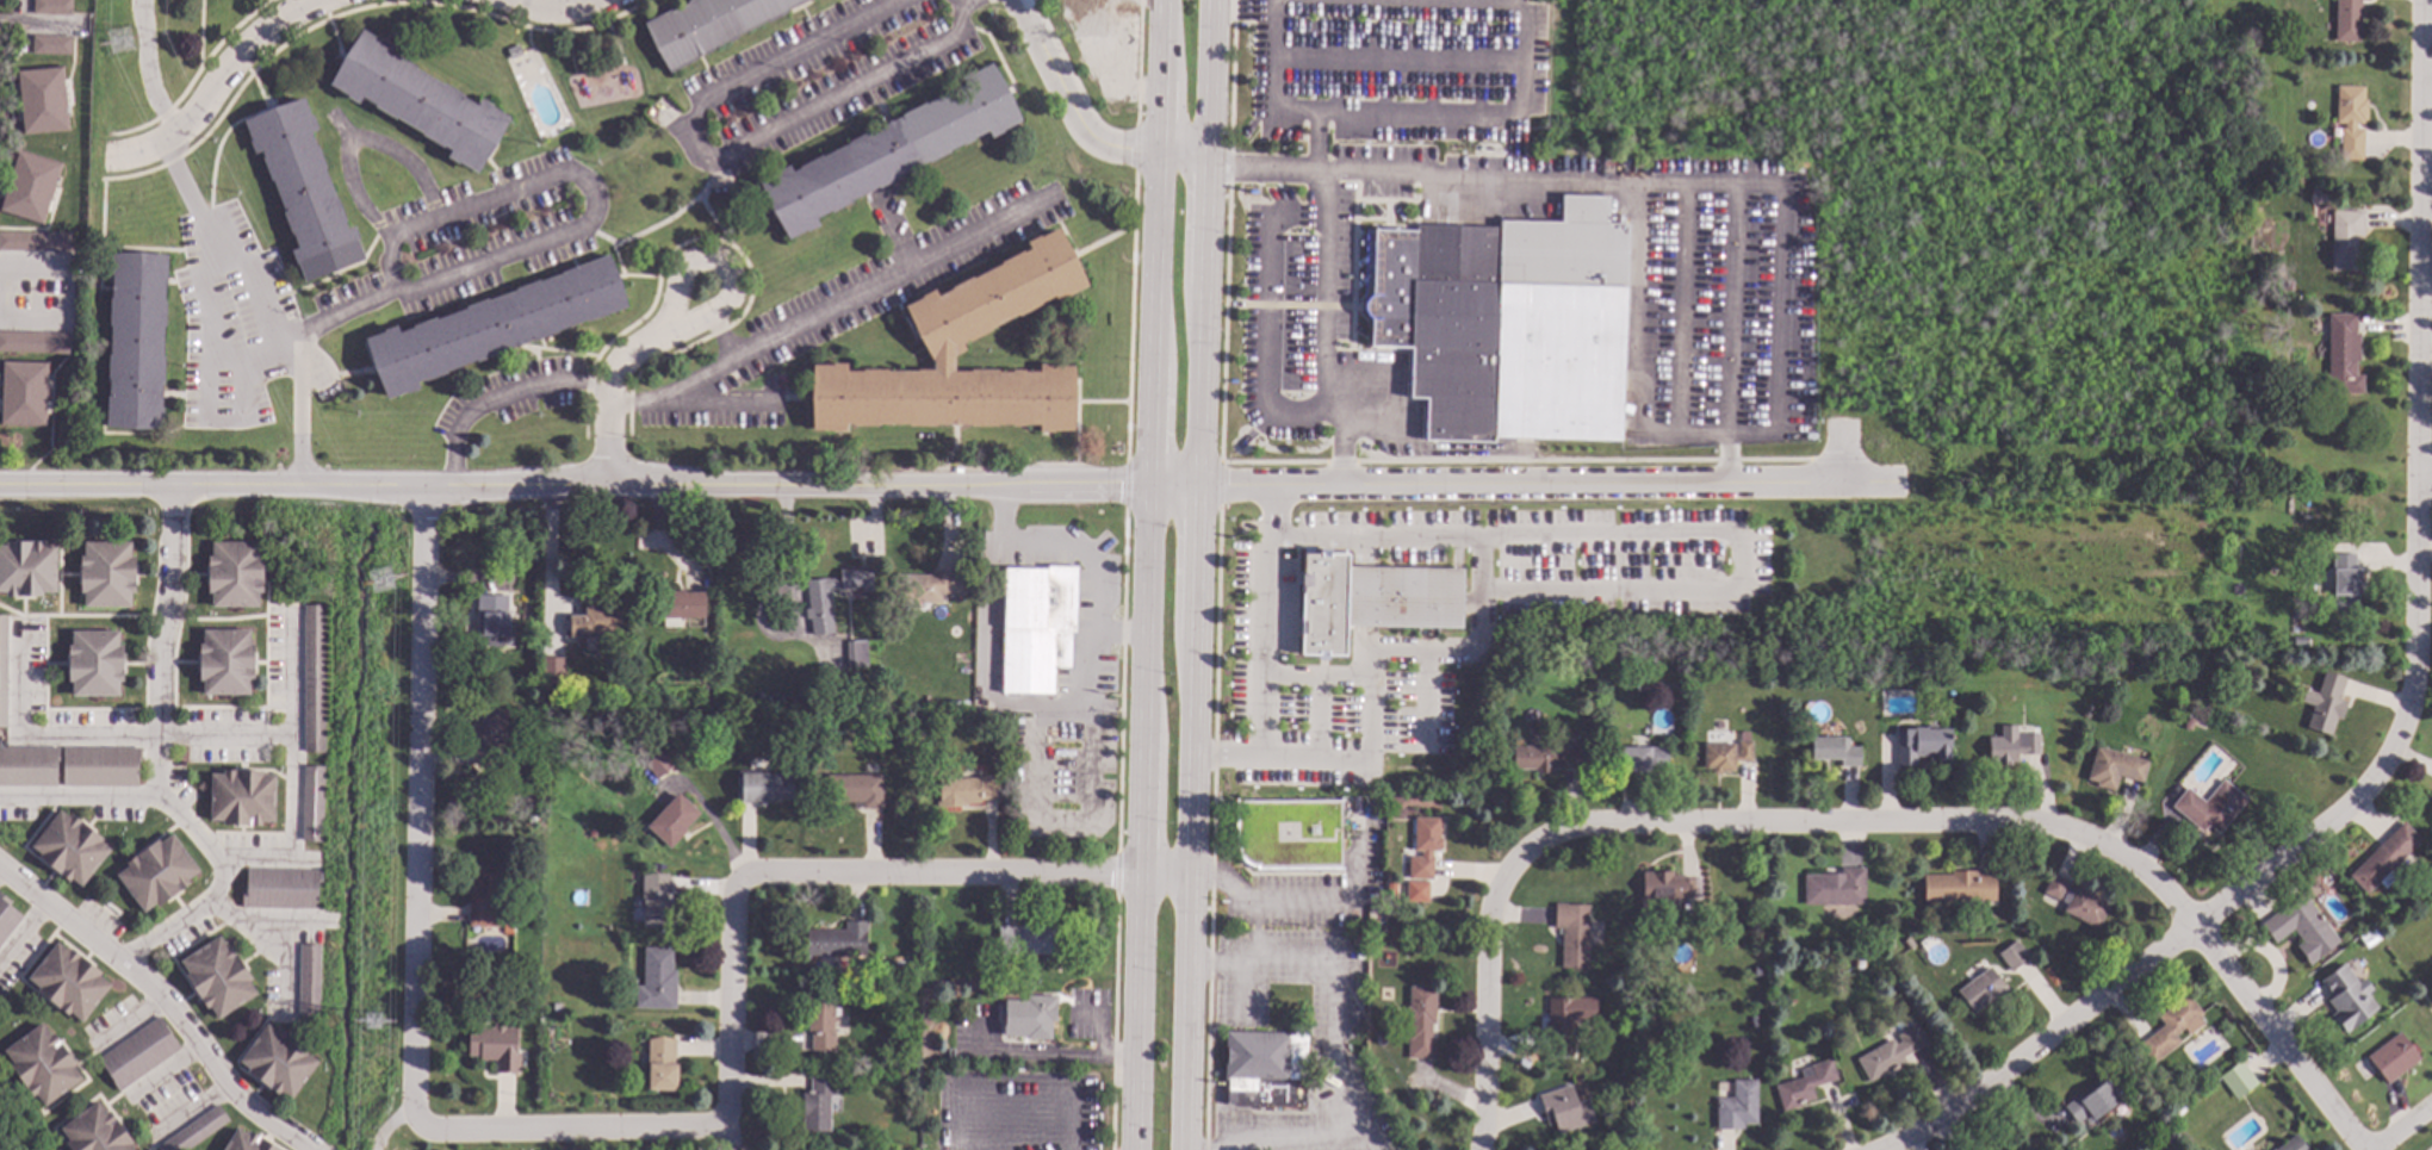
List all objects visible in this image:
road: (1563, 6)
building: (52, 7)
road: (558, 12)
building: (1086, 17)
building: (2346, 20)
building: (708, 26)
road: (39, 27)
road: (1831, 32)
power tower: (122, 41)
building: (51, 45)
building: (513, 52)
road: (2208, 52)
road: (147, 69)
road: (1816, 72)
road: (222, 79)
road: (1274, 79)
building: (42, 101)
building: (418, 101)
road: (1080, 120)
road: (2138, 120)
building: (2350, 120)
road: (1932, 130)
building: (1507, 135)
road: (2003, 141)
building: (888, 153)
road: (719, 161)
road: (2010, 167)
road: (2166, 181)
road: (1525, 182)
building: (29, 187)
building: (303, 189)
park: (1992, 195)
road: (484, 203)
road: (660, 220)
road: (713, 220)
road: (718, 240)
building: (2345, 241)
building: (35, 242)
road: (1204, 243)
road: (213, 253)
road: (30, 266)
road: (1987, 267)
road: (1327, 273)
road: (732, 276)
building: (2288, 286)
building: (1479, 293)
road: (372, 303)
road: (833, 316)
road: (32, 319)
building: (492, 327)
building: (950, 334)
road: (1729, 335)
building: (136, 342)
building: (33, 343)
road: (210, 348)
road: (1991, 354)
building: (2341, 358)
road: (2191, 362)
road: (2417, 365)
road: (612, 391)
road: (501, 392)
building: (24, 394)
road: (1150, 437)
road: (1837, 454)
road: (2424, 473)
road: (939, 486)
building: (2303, 514)
building: (484, 555)
road: (548, 564)
building: (26, 568)
building: (106, 574)
building: (234, 574)
power tower: (381, 582)
building: (2344, 583)
building: (927, 588)
building: (1371, 601)
building: (818, 602)
building: (682, 605)
road: (1092, 618)
building: (492, 620)
building: (596, 624)
building: (695, 624)
building: (1037, 628)
building: (2298, 645)
road: (1265, 647)
road: (1468, 648)
building: (625, 652)
building: (856, 655)
building: (2267, 658)
building: (225, 663)
building: (1650, 663)
building: (94, 664)
building: (2037, 666)
building: (2127, 667)
building: (2, 671)
building: (553, 672)
building: (1500, 672)
building: (1780, 672)
building: (314, 679)
building: (831, 695)
building: (2324, 704)
building: (712, 720)
building: (1003, 723)
building: (2188, 725)
building: (2034, 731)
building: (827, 733)
road: (106, 734)
building: (491, 734)
building: (1922, 746)
building: (2010, 746)
building: (1834, 752)
building: (1725, 757)
building: (1545, 758)
building: (1642, 759)
road: (163, 760)
building: (658, 764)
building: (29, 766)
building: (100, 766)
building: (2114, 769)
road: (292, 777)
building: (763, 788)
building: (855, 790)
building: (967, 791)
building: (242, 798)
road: (83, 800)
road: (415, 802)
building: (532, 803)
building: (312, 804)
building: (2209, 807)
road: (1191, 819)
road: (1853, 821)
building: (672, 822)
building: (590, 833)
building: (1288, 834)
building: (1423, 848)
building: (69, 850)
building: (1594, 857)
building: (2383, 859)
building: (157, 874)
road: (964, 874)
building: (1958, 888)
building: (1835, 889)
building: (281, 890)
building: (1665, 890)
building: (1416, 891)
building: (485, 897)
road: (1247, 901)
building: (656, 902)
building: (2077, 902)
building: (1390, 912)
building: (7, 919)
building: (2300, 930)
building: (507, 932)
building: (1572, 935)
building: (1028, 940)
building: (1355, 940)
building: (2366, 940)
building: (837, 941)
building: (1907, 944)
building: (1891, 945)
road: (2152, 949)
building: (1762, 955)
building: (2012, 957)
building: (1859, 965)
building: (886, 971)
building: (217, 978)
building: (657, 981)
building: (69, 983)
building: (309, 983)
building: (1981, 990)
road: (730, 995)
building: (2346, 999)
building: (1789, 1000)
road: (161, 1005)
building: (556, 1008)
road: (1135, 1013)
building: (601, 1015)
building: (1029, 1018)
road: (124, 1020)
building: (820, 1021)
building: (1566, 1021)
power tower: (374, 1022)
building: (1420, 1022)
building: (1752, 1024)
building: (2170, 1030)
road: (1338, 1040)
building: (495, 1046)
building: (138, 1055)
building: (1890, 1055)
building: (2393, 1057)
building: (278, 1062)
building: (660, 1065)
building: (42, 1067)
building: (1264, 1068)
road: (165, 1071)
building: (2236, 1081)
building: (1803, 1086)
building: (2091, 1102)
building: (817, 1104)
building: (1736, 1107)
building: (1564, 1109)
road: (187, 1111)
building: (1630, 1117)
road: (387, 1124)
park: (18, 1125)
road: (566, 1126)
road: (2401, 1126)
building: (95, 1131)
building: (196, 1131)
building: (246, 1142)
building: (2293, 1145)

